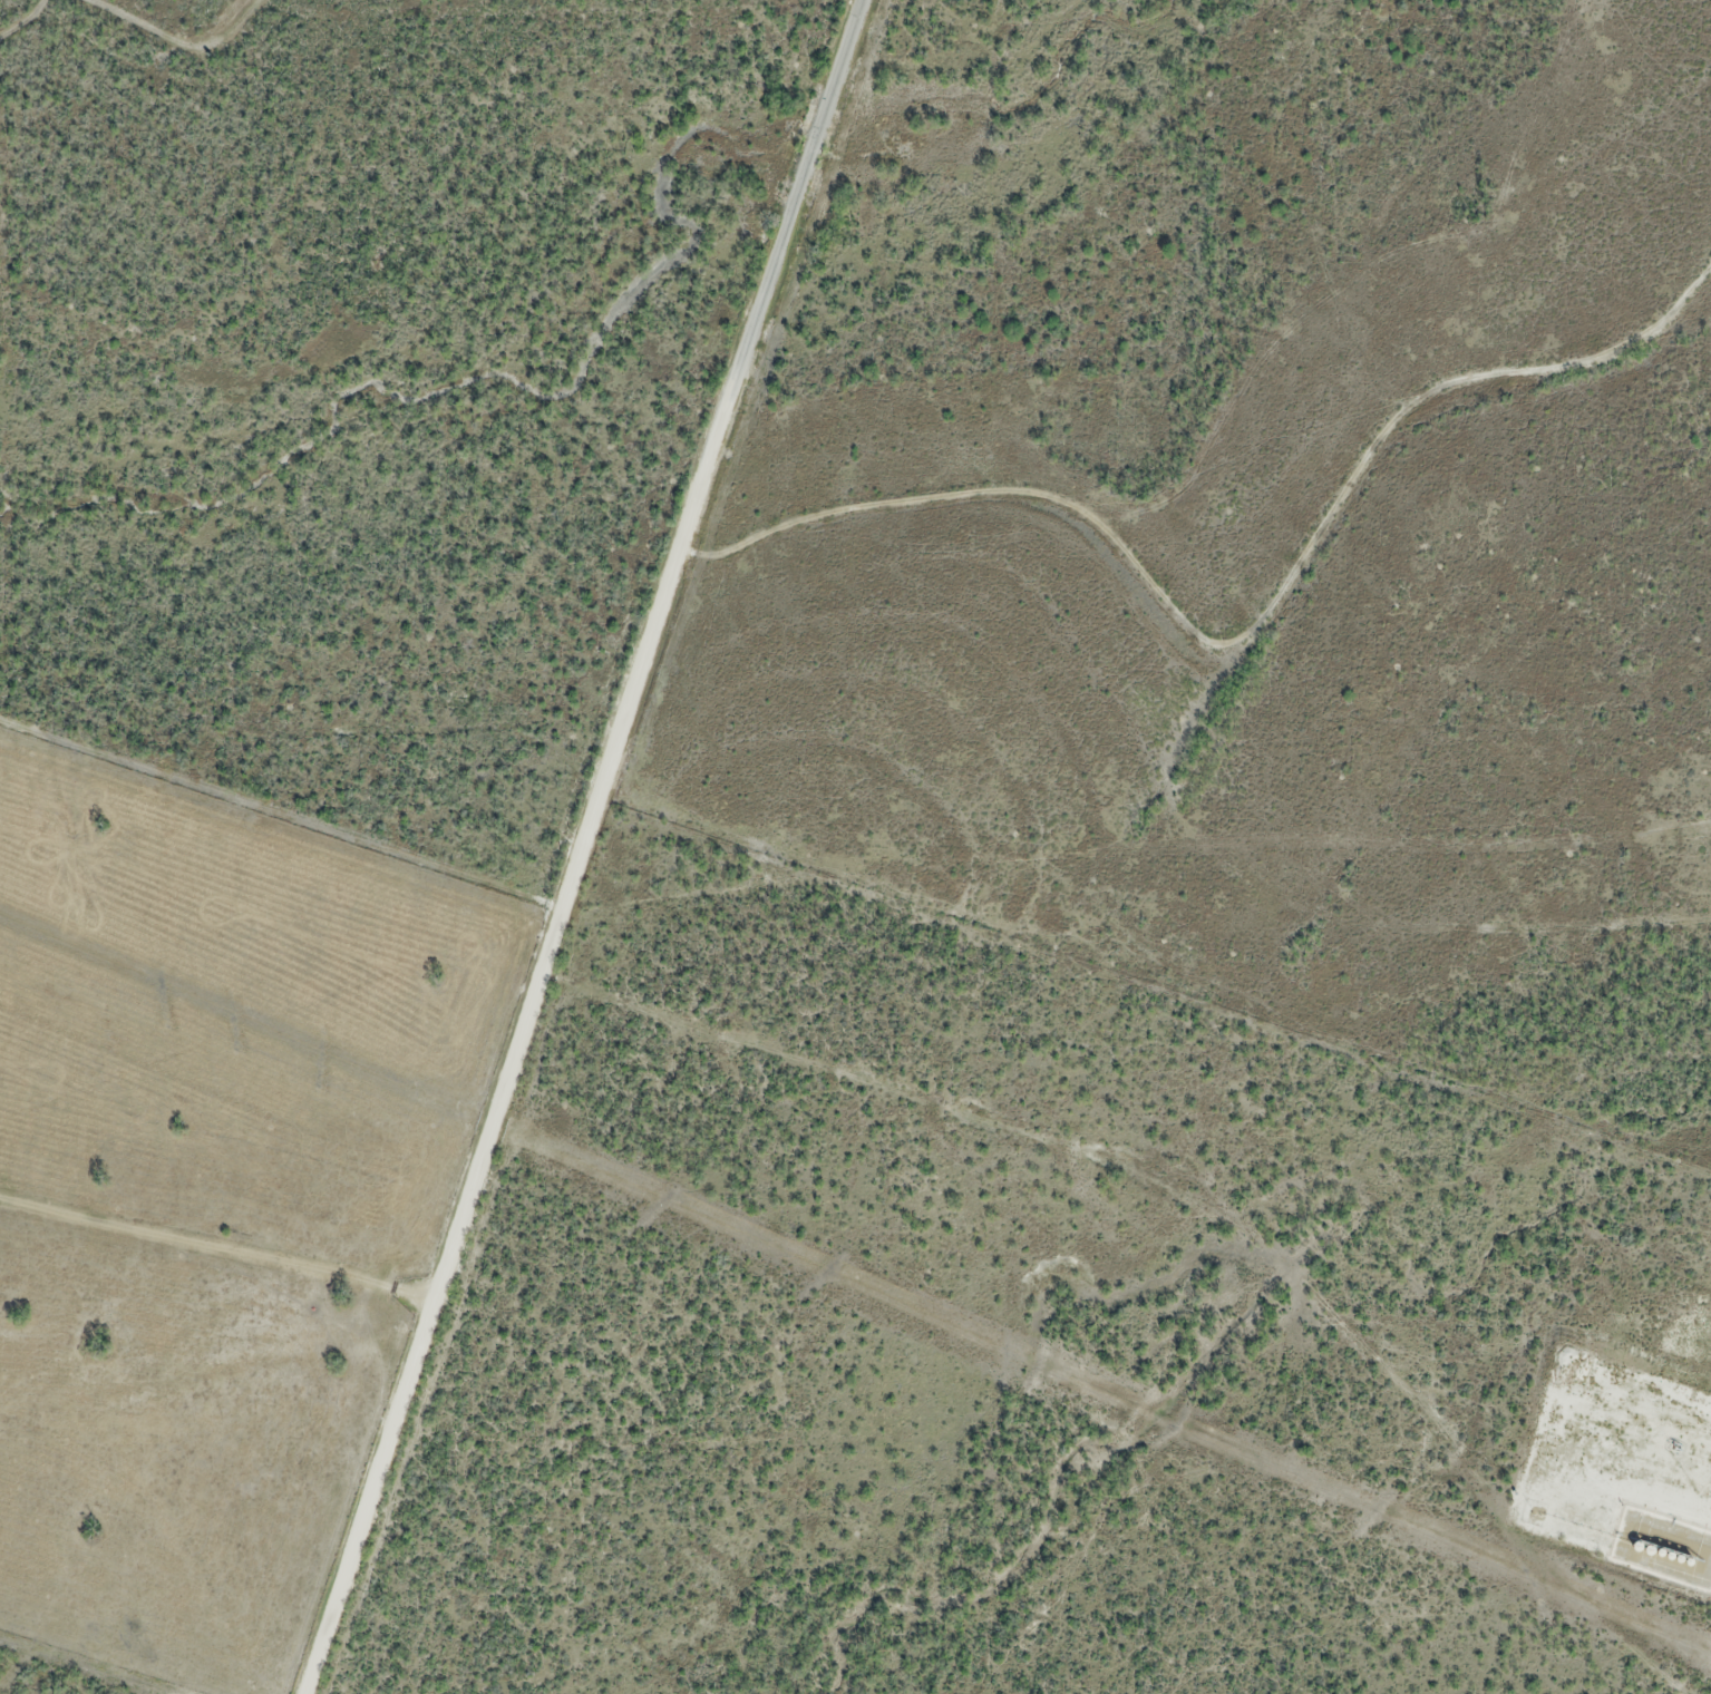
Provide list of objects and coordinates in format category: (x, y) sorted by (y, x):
road: (694, 485)
road: (1235, 634)
road: (1187, 1200)
road: (418, 1334)

